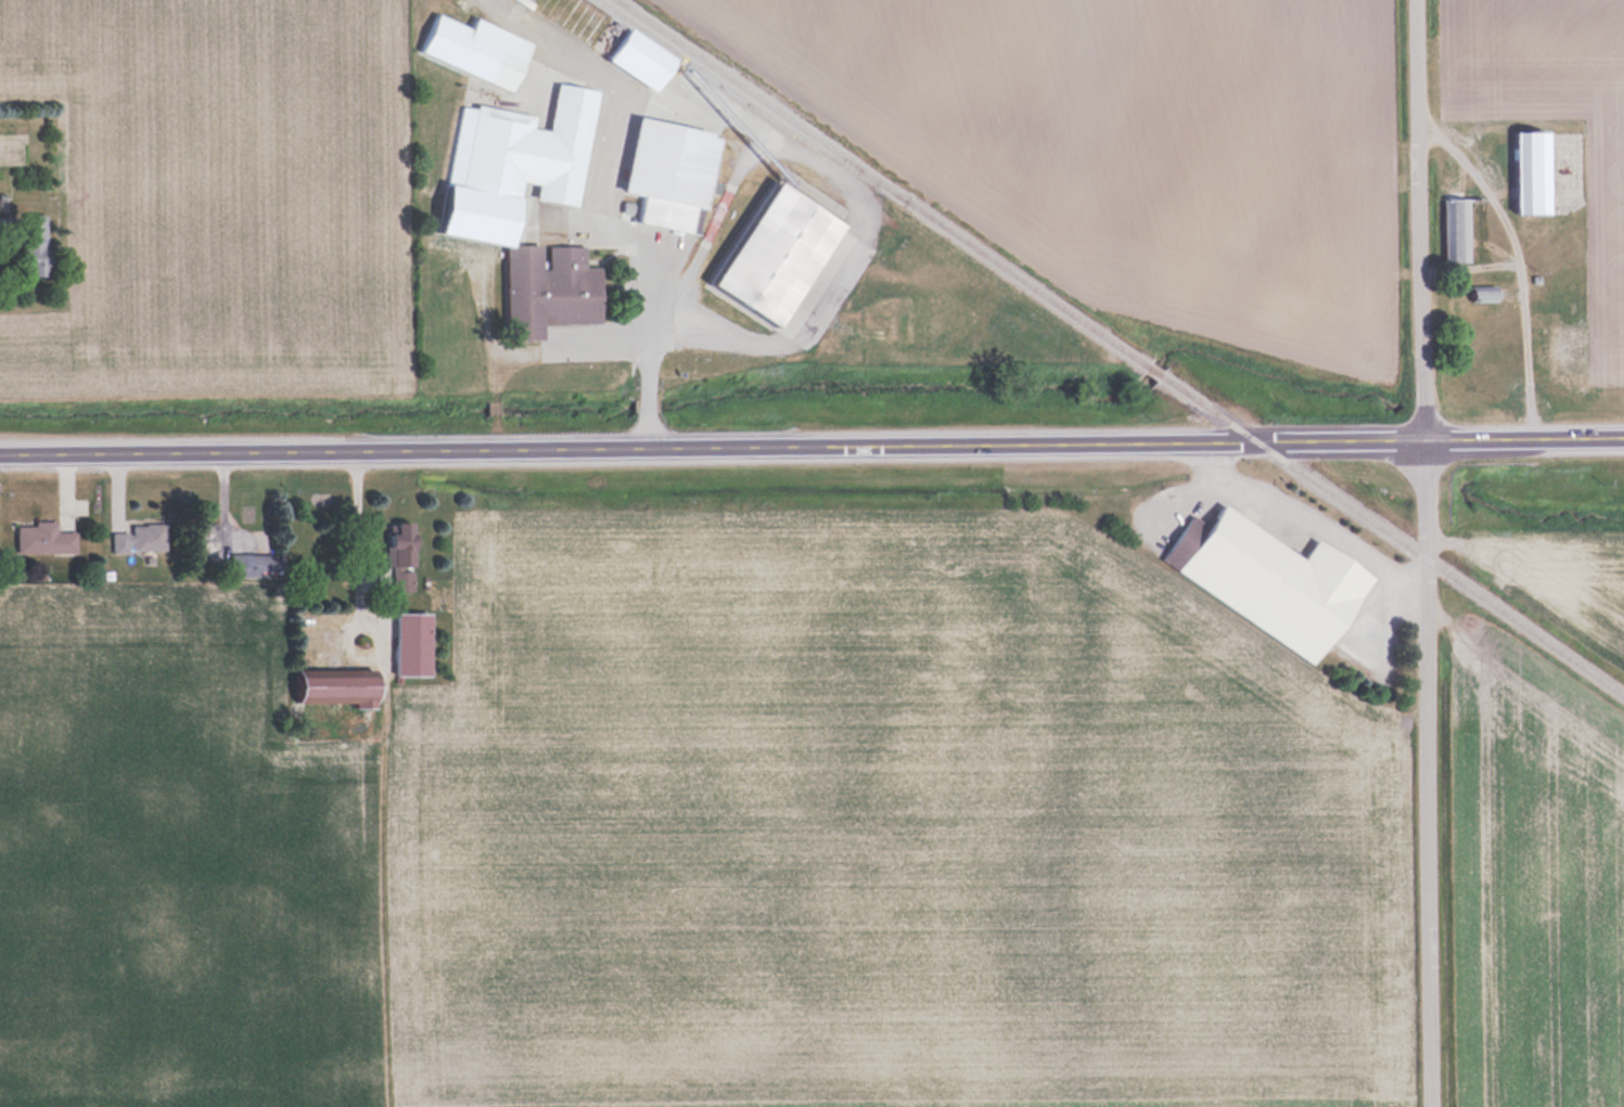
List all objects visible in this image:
building: (474, 52)
building: (642, 60)
building: (525, 149)
building: (673, 173)
building: (1534, 173)
building: (1457, 230)
building: (1616, 248)
building: (779, 255)
building: (36, 256)
building: (549, 287)
building: (1486, 294)
railway: (1120, 347)
building: (1574, 349)
road: (648, 350)
road: (811, 448)
building: (42, 538)
building: (139, 538)
road: (360, 541)
road: (1427, 553)
building: (402, 556)
building: (253, 564)
building: (1271, 581)
road: (354, 631)
building: (413, 643)
building: (341, 688)

